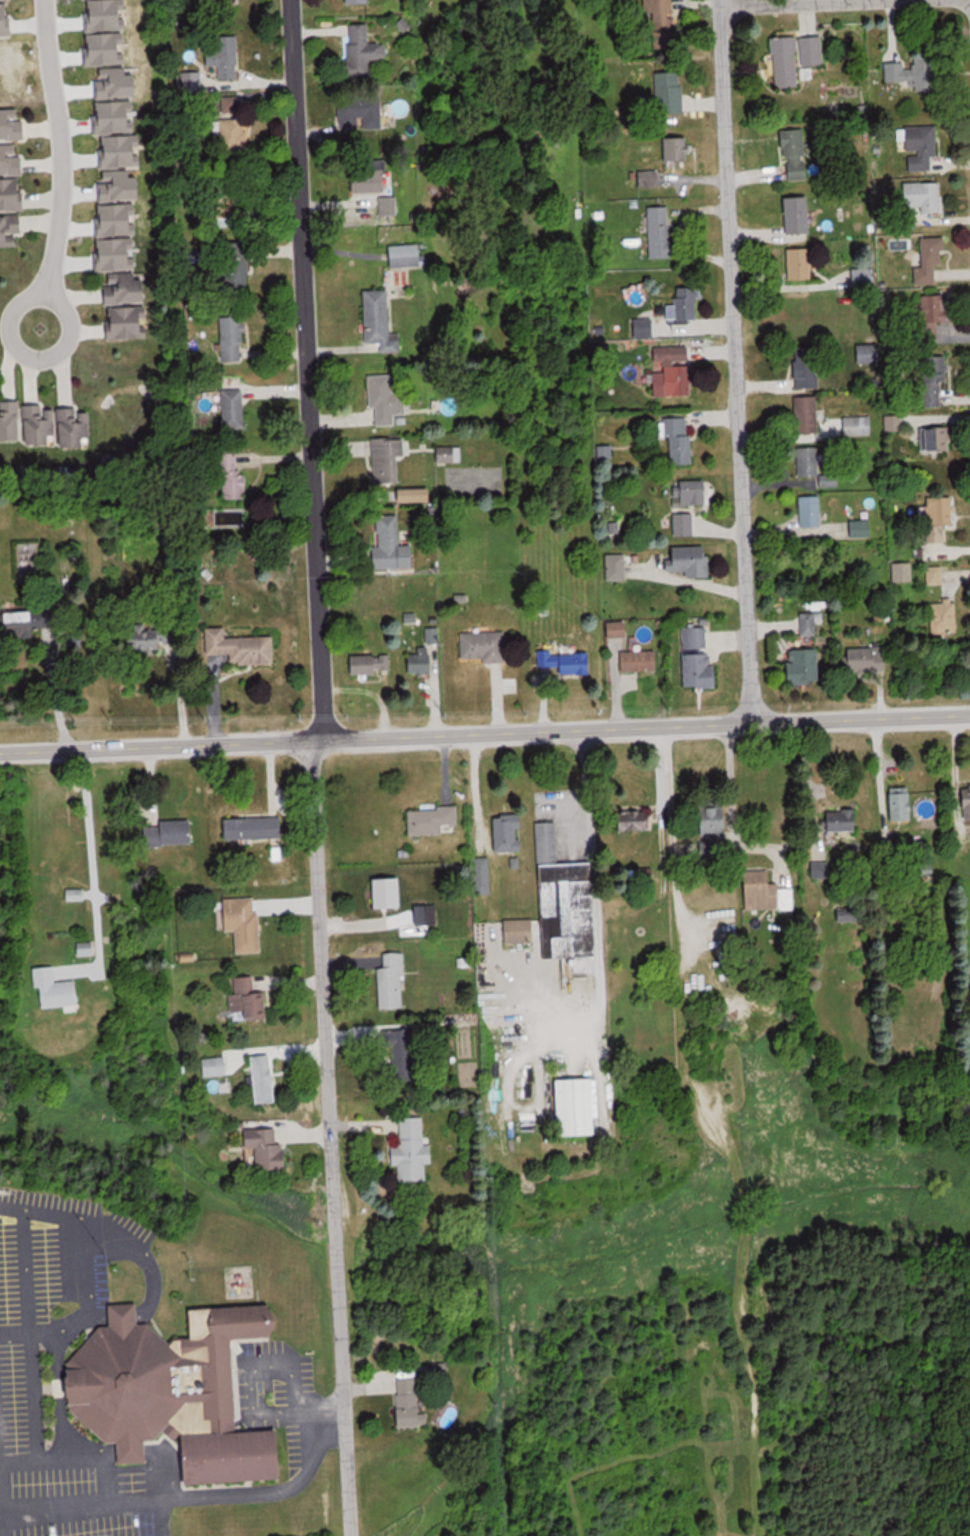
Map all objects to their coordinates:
building: (341, 0)
building: (226, 1)
road: (758, 2)
building: (663, 22)
building: (364, 49)
building: (225, 56)
building: (796, 58)
building: (914, 73)
building: (670, 93)
building: (361, 112)
building: (12, 123)
building: (235, 133)
building: (922, 147)
building: (679, 148)
road: (58, 150)
building: (795, 154)
building: (12, 158)
building: (370, 178)
building: (649, 178)
building: (12, 193)
building: (922, 196)
building: (799, 214)
building: (11, 230)
building: (660, 231)
building: (406, 254)
building: (933, 257)
building: (801, 263)
building: (237, 266)
building: (864, 276)
building: (127, 288)
building: (684, 305)
building: (935, 316)
building: (380, 321)
building: (128, 322)
building: (232, 339)
building: (868, 353)
road: (727, 360)
building: (806, 367)
road: (296, 369)
building: (673, 371)
building: (934, 378)
building: (387, 400)
building: (233, 409)
building: (807, 414)
building: (11, 421)
building: (41, 425)
building: (76, 428)
building: (678, 438)
building: (937, 439)
building: (388, 458)
building: (808, 461)
building: (233, 476)
building: (693, 492)
building: (416, 494)
building: (811, 510)
building: (940, 516)
building: (684, 523)
building: (392, 544)
building: (691, 560)
building: (617, 566)
building: (903, 571)
building: (21, 616)
building: (944, 616)
building: (813, 622)
building: (617, 628)
building: (156, 637)
building: (484, 645)
building: (242, 646)
building: (698, 658)
building: (868, 658)
building: (422, 659)
building: (640, 660)
building: (567, 661)
building: (370, 663)
building: (805, 665)
road: (484, 731)
building: (968, 801)
building: (902, 806)
building: (433, 820)
building: (637, 820)
building: (843, 820)
building: (254, 827)
building: (178, 832)
building: (714, 832)
building: (510, 833)
building: (821, 869)
building: (767, 891)
building: (76, 894)
building: (564, 895)
building: (244, 922)
building: (520, 930)
building: (87, 947)
building: (393, 981)
building: (56, 989)
building: (248, 999)
building: (398, 1051)
building: (216, 1065)
building: (265, 1078)
building: (578, 1107)
road: (325, 1137)
building: (271, 1150)
building: (414, 1151)
building: (170, 1391)
building: (413, 1402)

